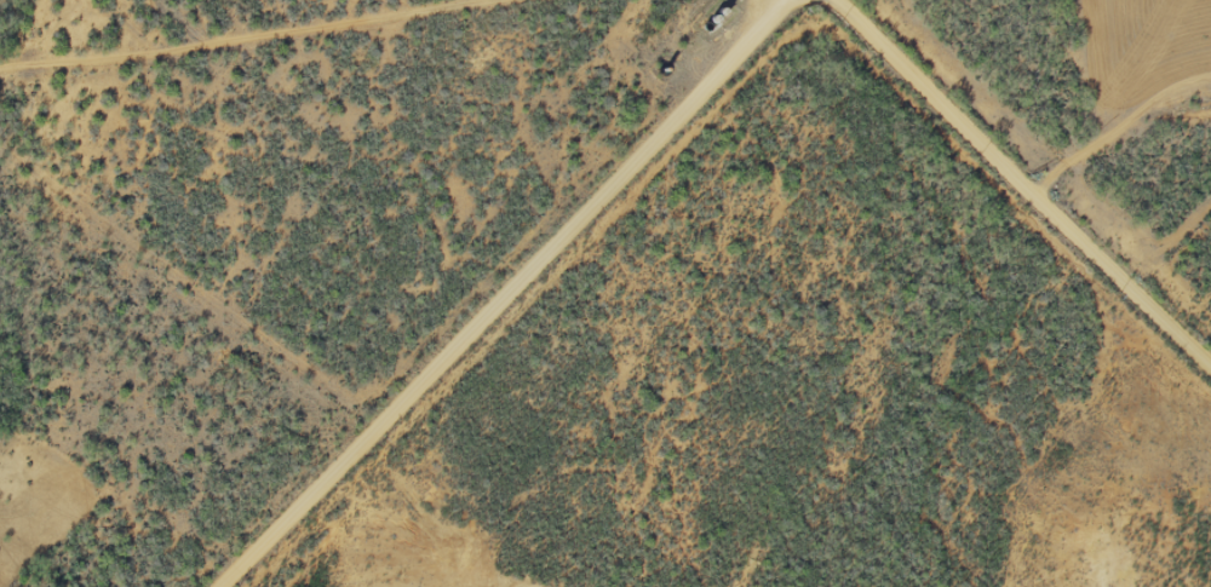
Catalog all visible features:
road: (803, 2)
road: (1023, 62)
road: (710, 102)

